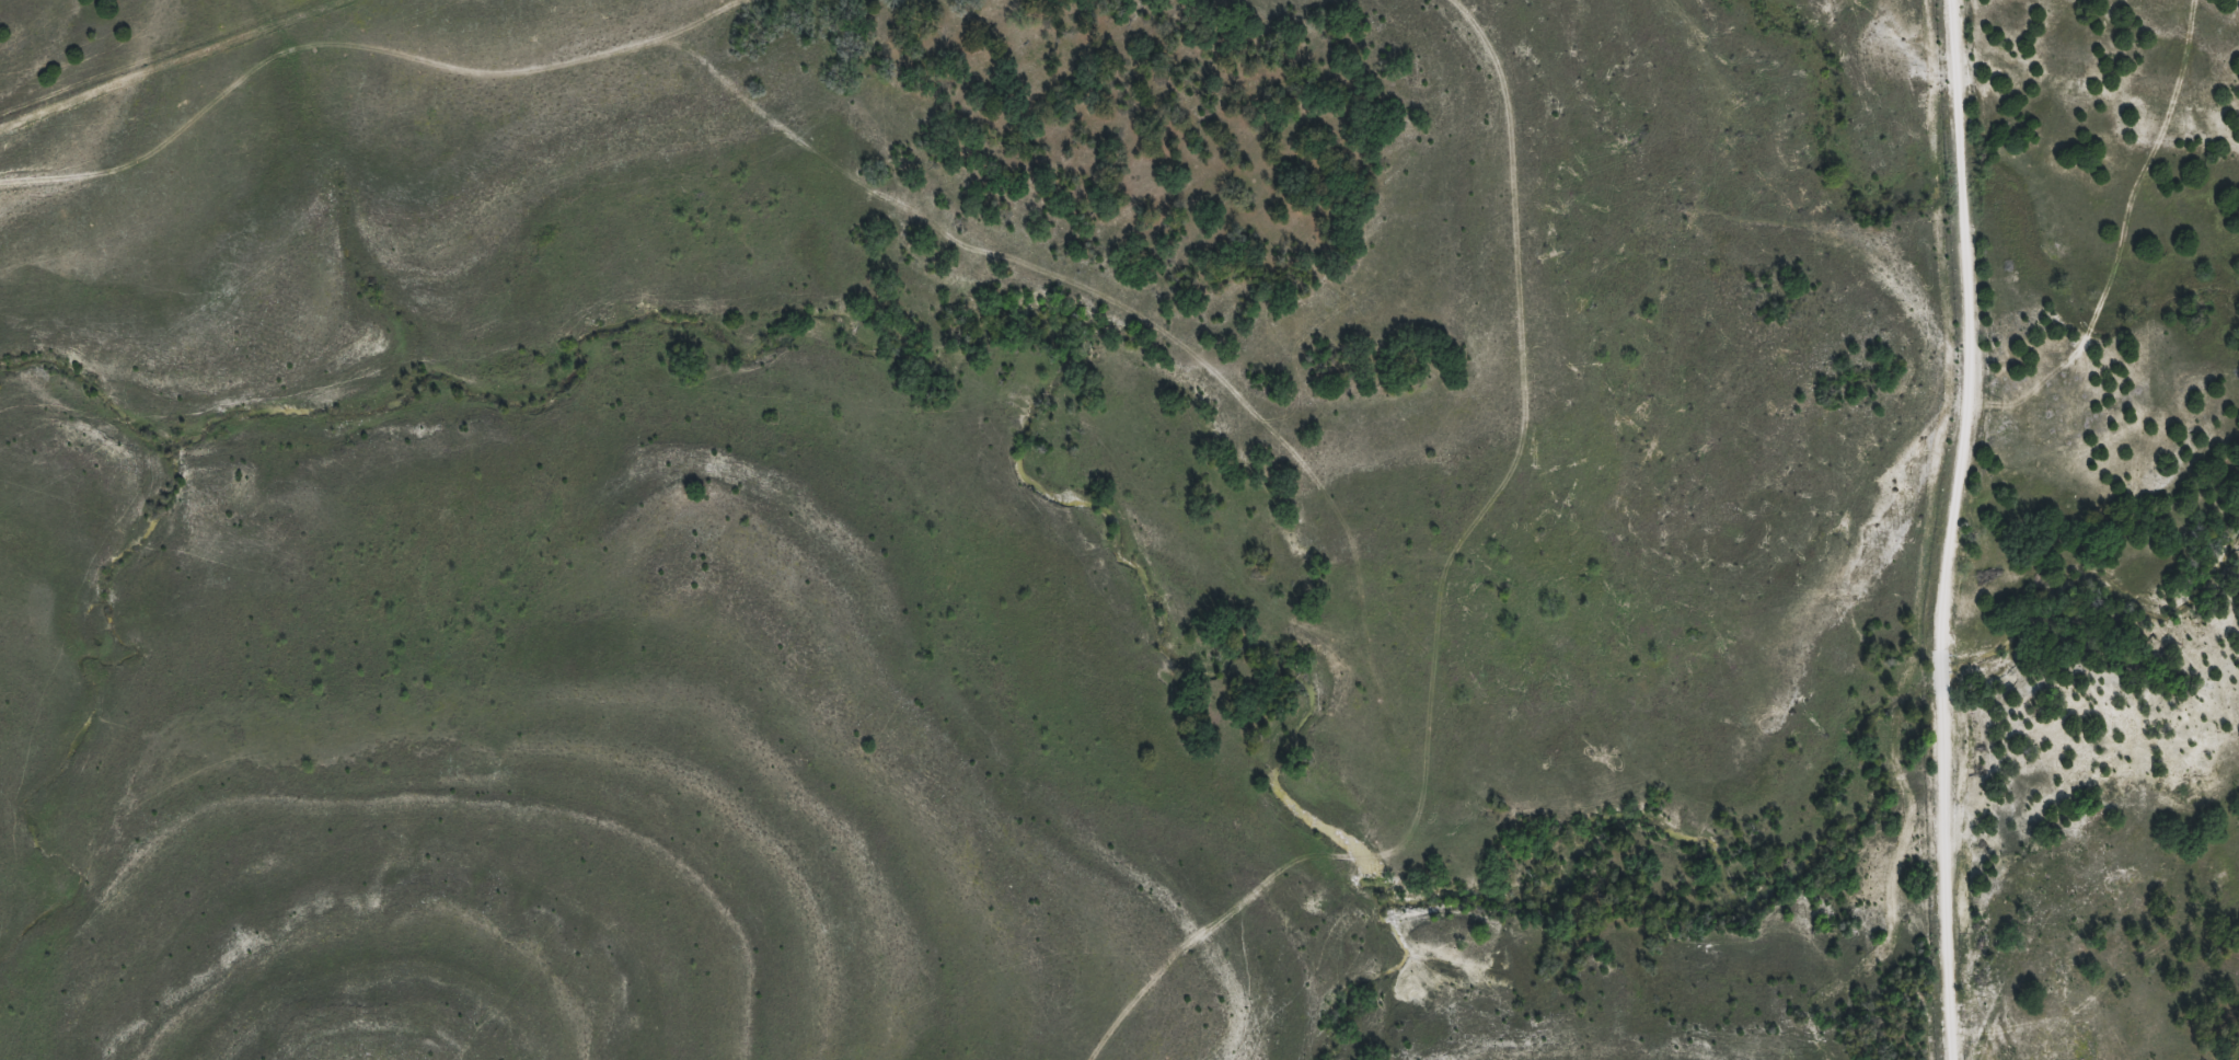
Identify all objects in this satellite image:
road: (1961, 529)

